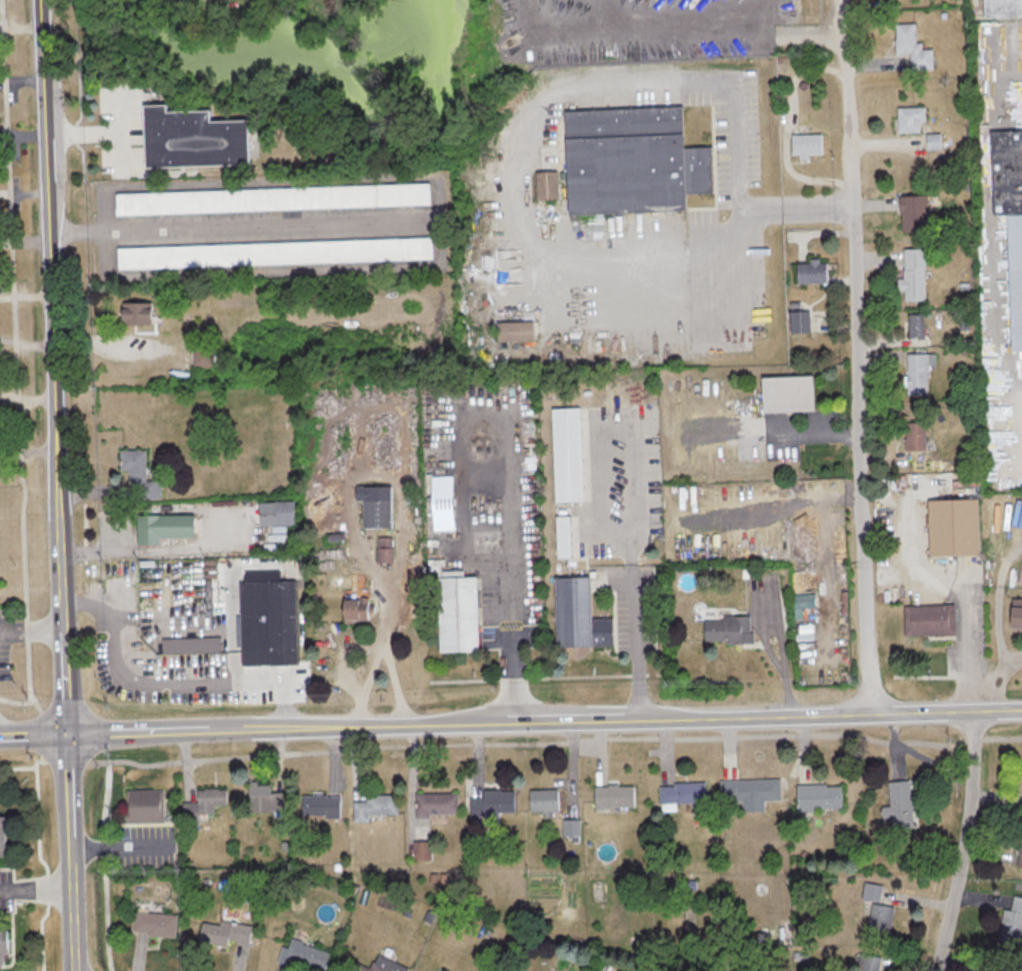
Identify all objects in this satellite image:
building: (1001, 8)
building: (621, 20)
building: (910, 47)
road: (548, 94)
building: (909, 120)
road: (85, 130)
building: (196, 139)
building: (804, 145)
building: (621, 161)
building: (544, 186)
building: (274, 198)
building: (911, 214)
building: (1009, 219)
road: (233, 224)
building: (273, 252)
building: (810, 272)
building: (911, 284)
building: (139, 313)
building: (797, 319)
building: (914, 326)
building: (512, 331)
road: (854, 358)
building: (915, 373)
building: (784, 394)
road: (794, 431)
building: (913, 437)
building: (565, 455)
building: (141, 476)
road: (58, 485)
road: (631, 495)
building: (439, 503)
building: (373, 506)
building: (282, 512)
building: (167, 528)
building: (951, 528)
building: (561, 536)
road: (127, 548)
road: (514, 593)
building: (801, 601)
road: (384, 603)
road: (998, 604)
building: (352, 610)
building: (454, 614)
building: (576, 616)
building: (1014, 618)
building: (927, 620)
building: (268, 623)
road: (31, 629)
building: (726, 629)
road: (636, 641)
road: (967, 648)
road: (167, 680)
road: (1001, 680)
road: (365, 684)
road: (544, 723)
traffic signals: (67, 734)
road: (33, 735)
building: (748, 791)
building: (680, 793)
building: (616, 795)
building: (816, 796)
building: (266, 798)
building: (545, 800)
building: (496, 802)
building: (438, 803)
building: (145, 804)
building: (205, 804)
building: (321, 804)
building: (376, 805)
building: (896, 806)
building: (572, 826)
building: (4, 835)
road: (961, 842)
road: (119, 848)
building: (1019, 850)
road: (35, 890)
building: (878, 919)
building: (1011, 921)
building: (157, 923)
building: (229, 933)
building: (6, 947)
building: (307, 954)
building: (868, 963)
building: (382, 965)
building: (998, 968)

